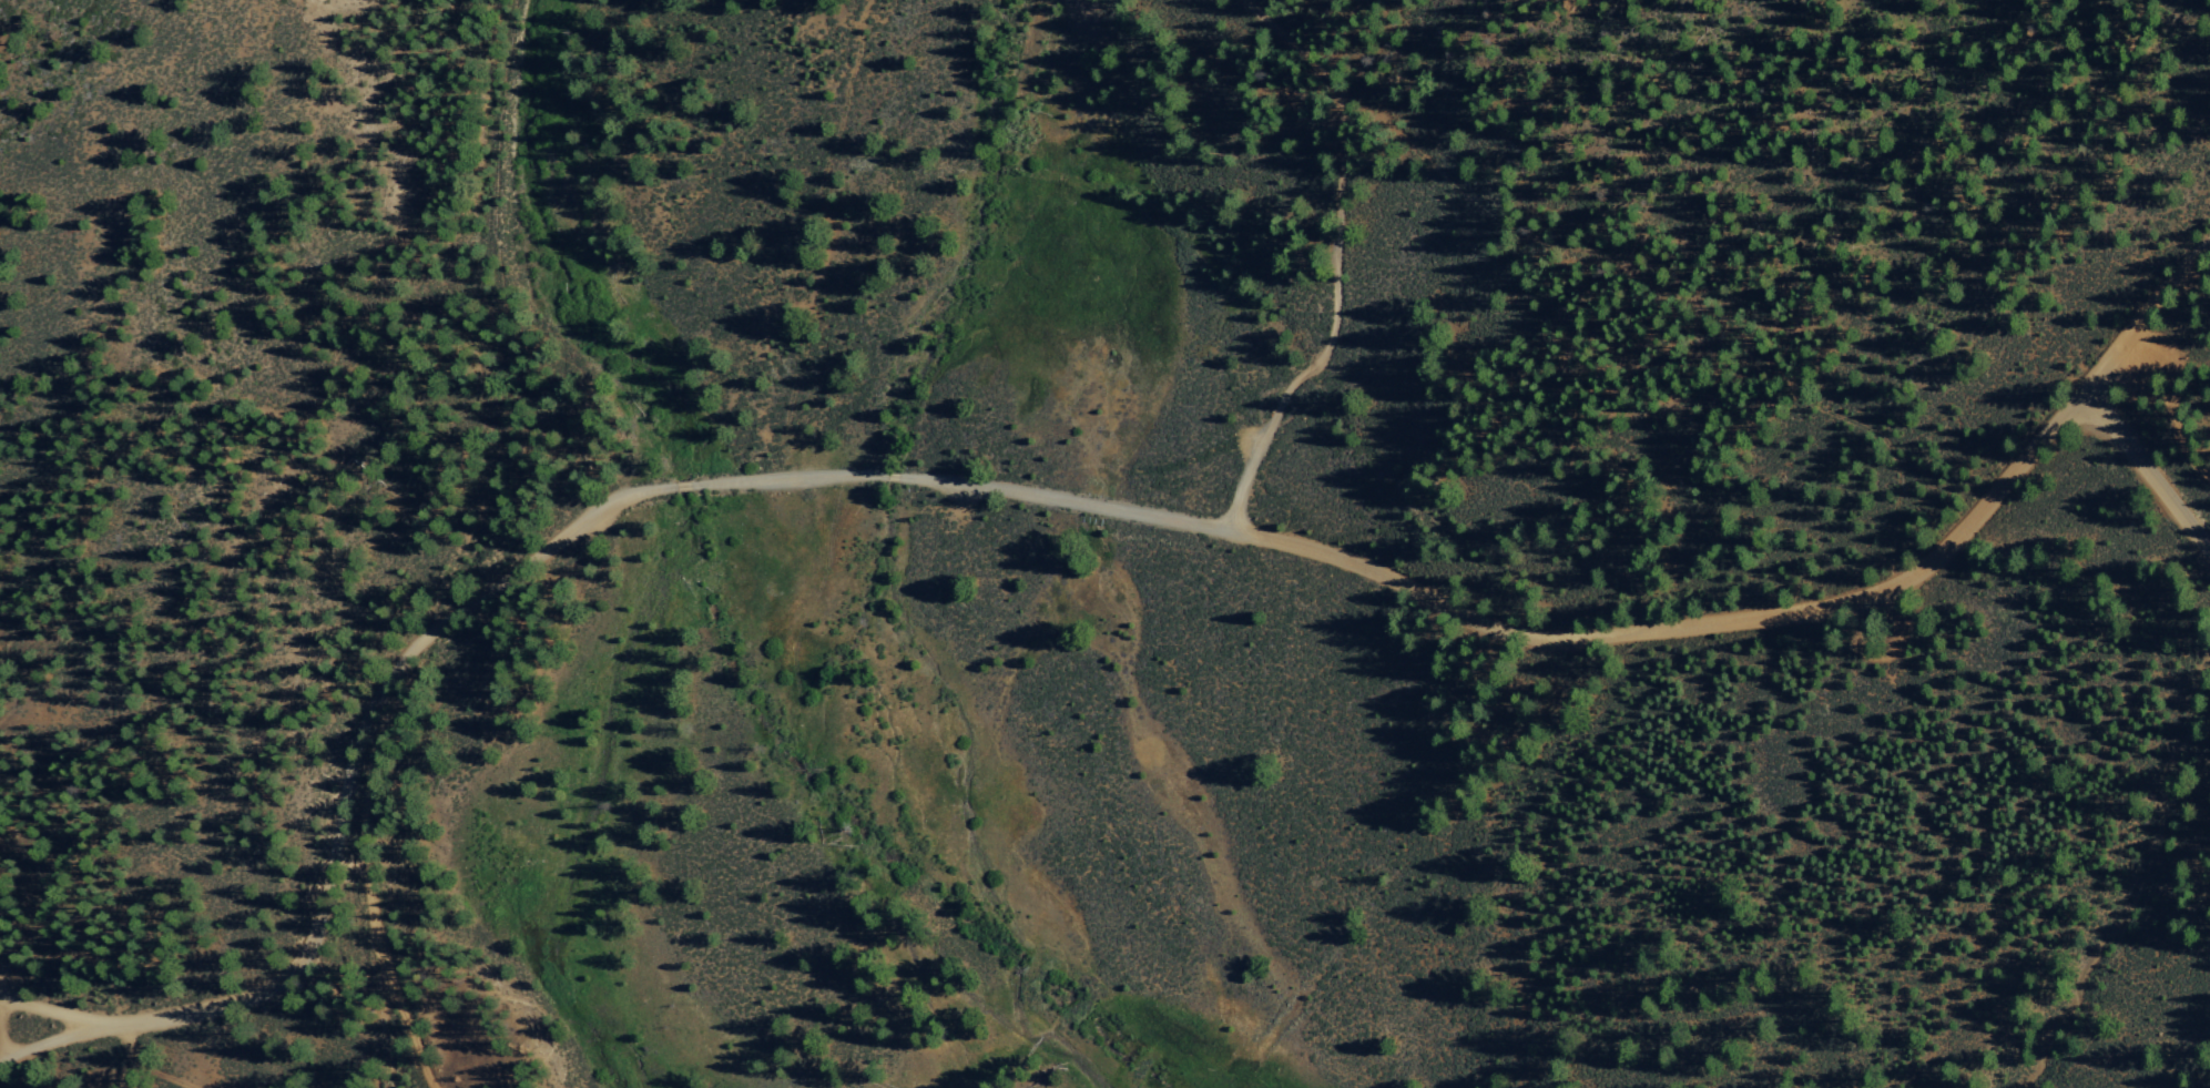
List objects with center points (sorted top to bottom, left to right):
road: (1338, 264)
road: (2143, 313)
road: (2146, 474)
road: (786, 477)
road: (890, 477)
road: (682, 486)
road: (1522, 638)
road: (343, 800)
road: (367, 883)
road: (44, 1041)
road: (144, 1066)

